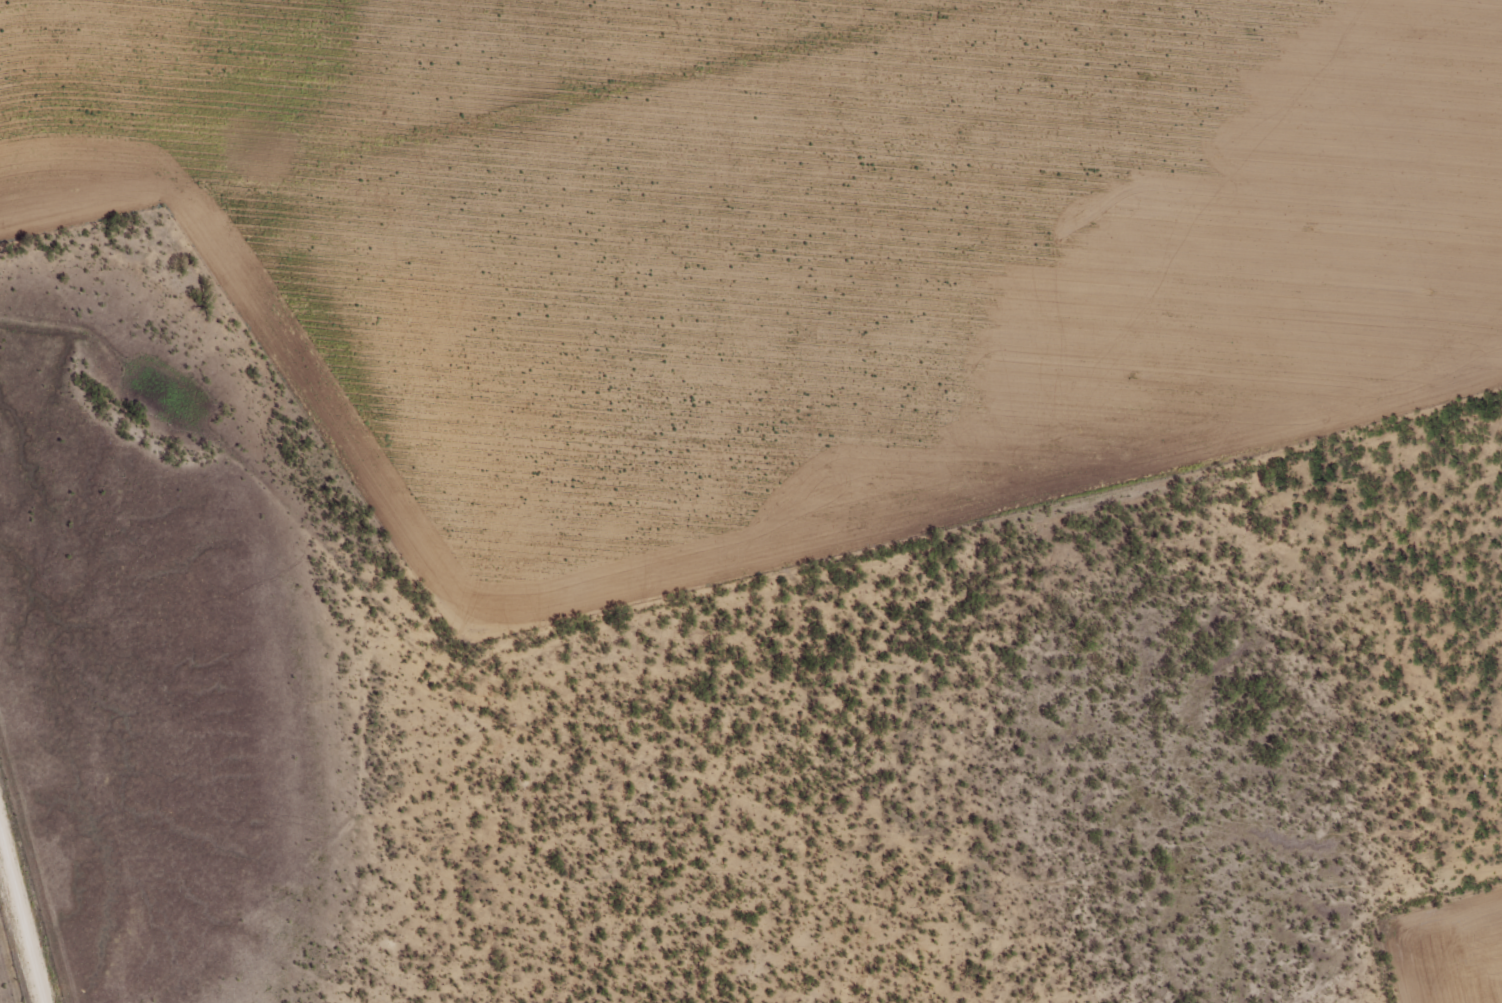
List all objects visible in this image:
road: (505, 129)
road: (781, 564)
road: (11, 957)

